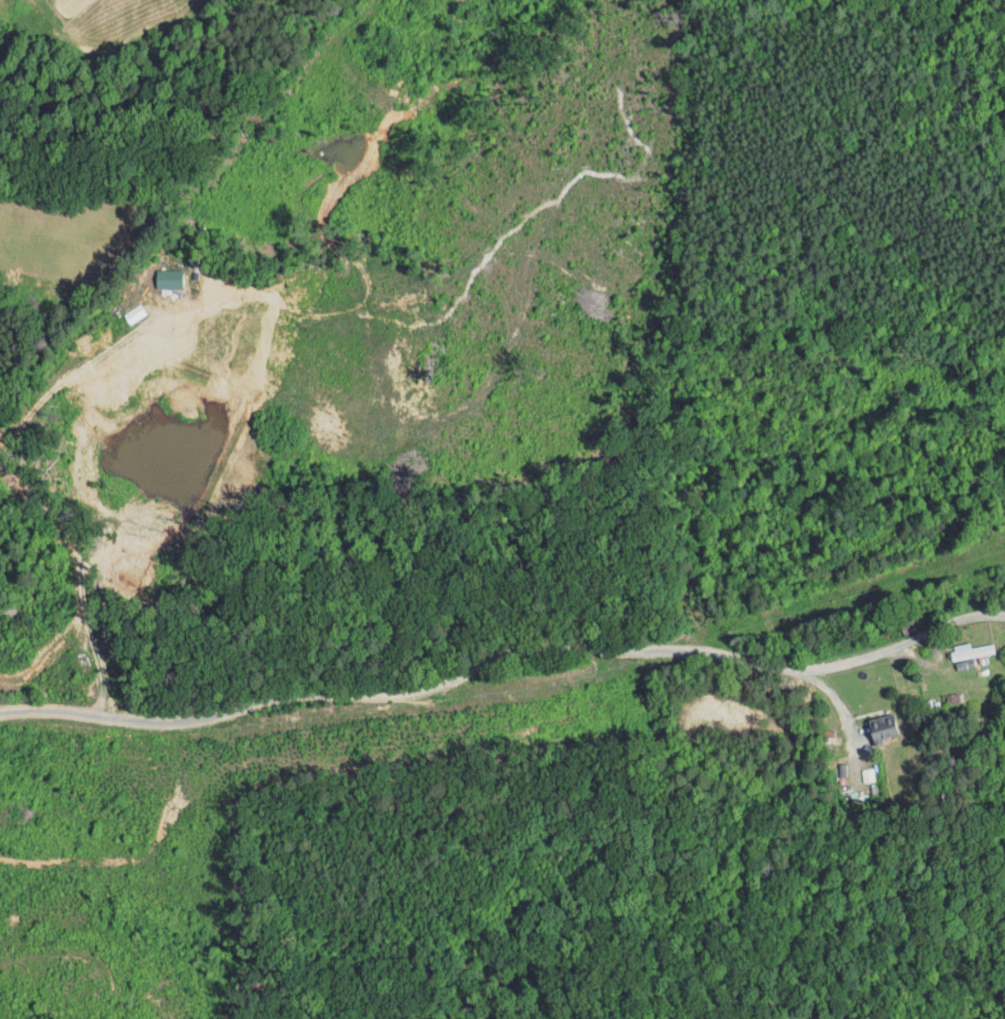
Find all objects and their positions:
building: (155, 273)
building: (121, 308)
building: (958, 645)
road: (499, 649)
building: (939, 694)
road: (842, 712)
building: (869, 723)

